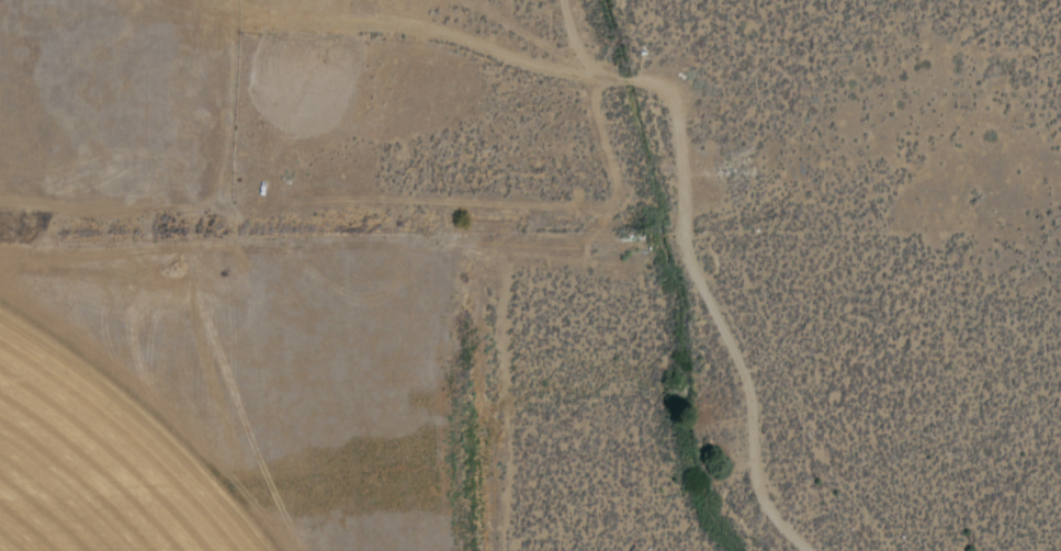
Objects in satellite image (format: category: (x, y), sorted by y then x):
road: (681, 261)
crop: (205, 316)

